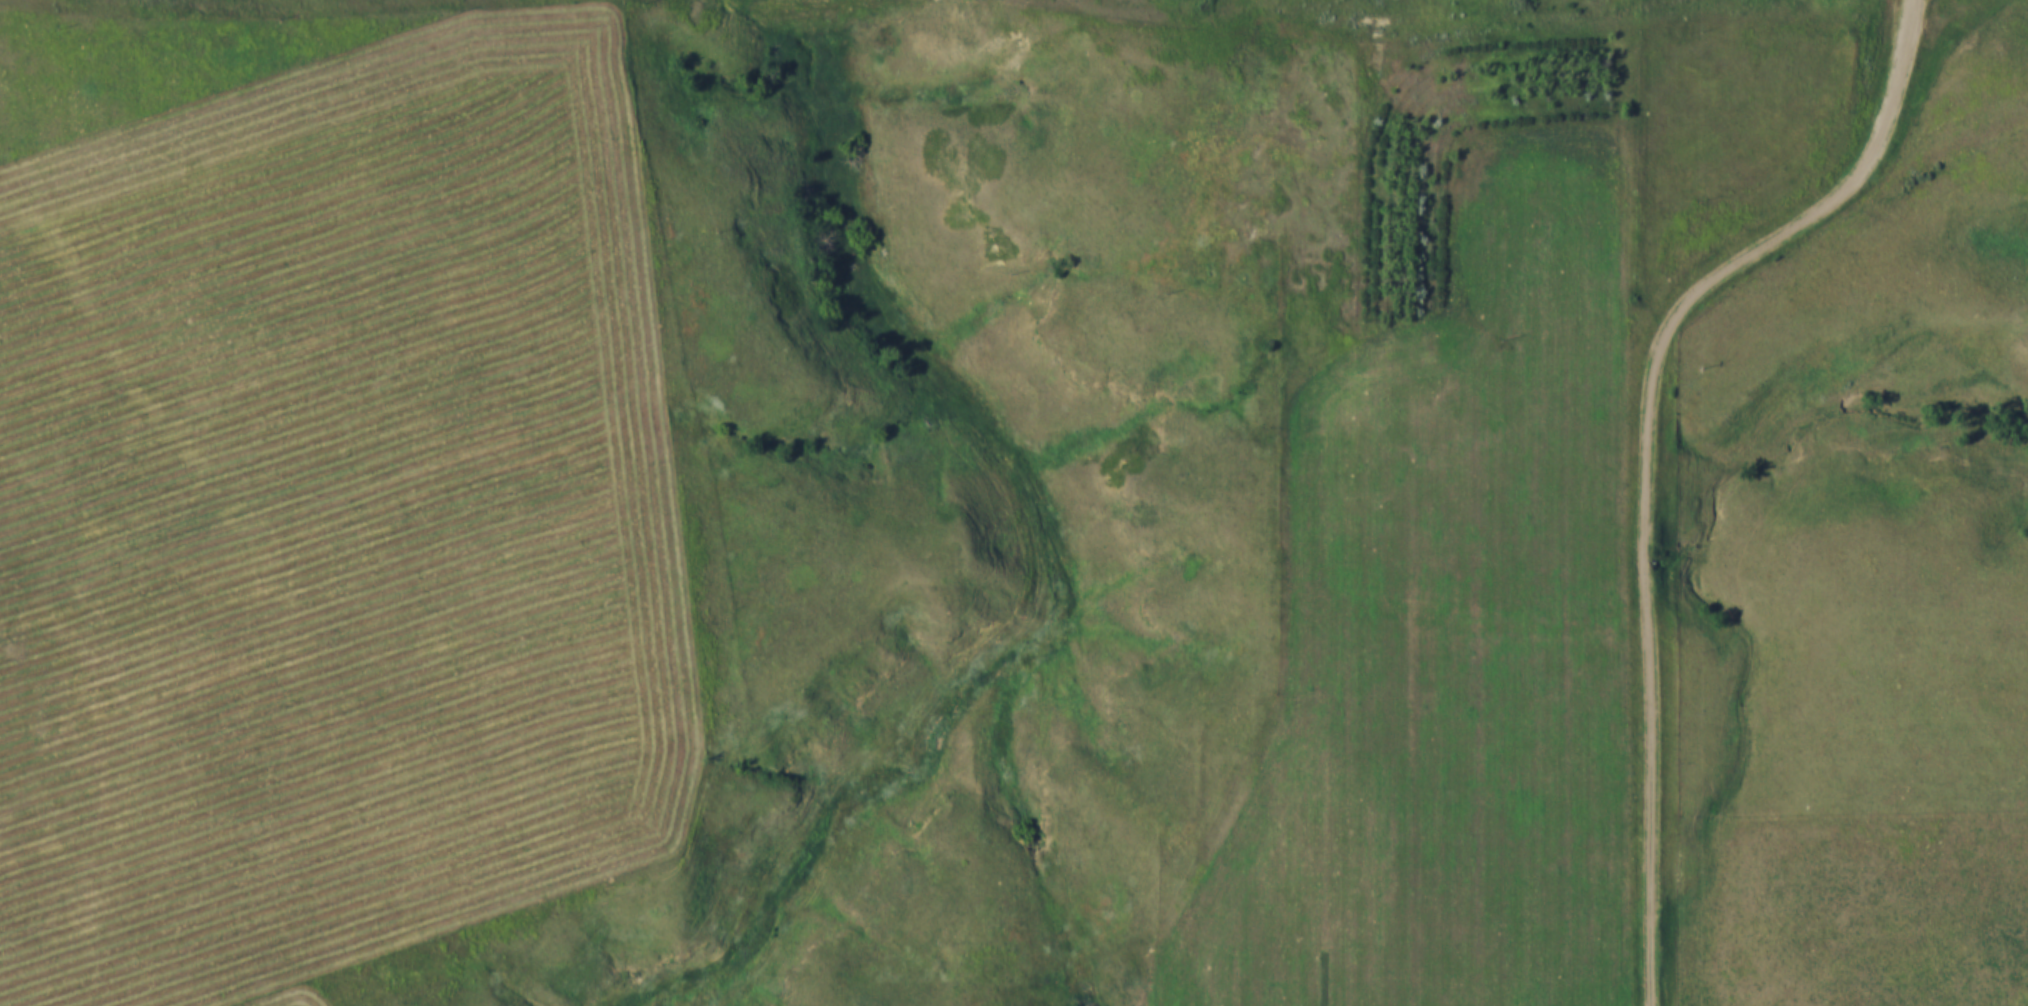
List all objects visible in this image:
road: (1646, 446)

